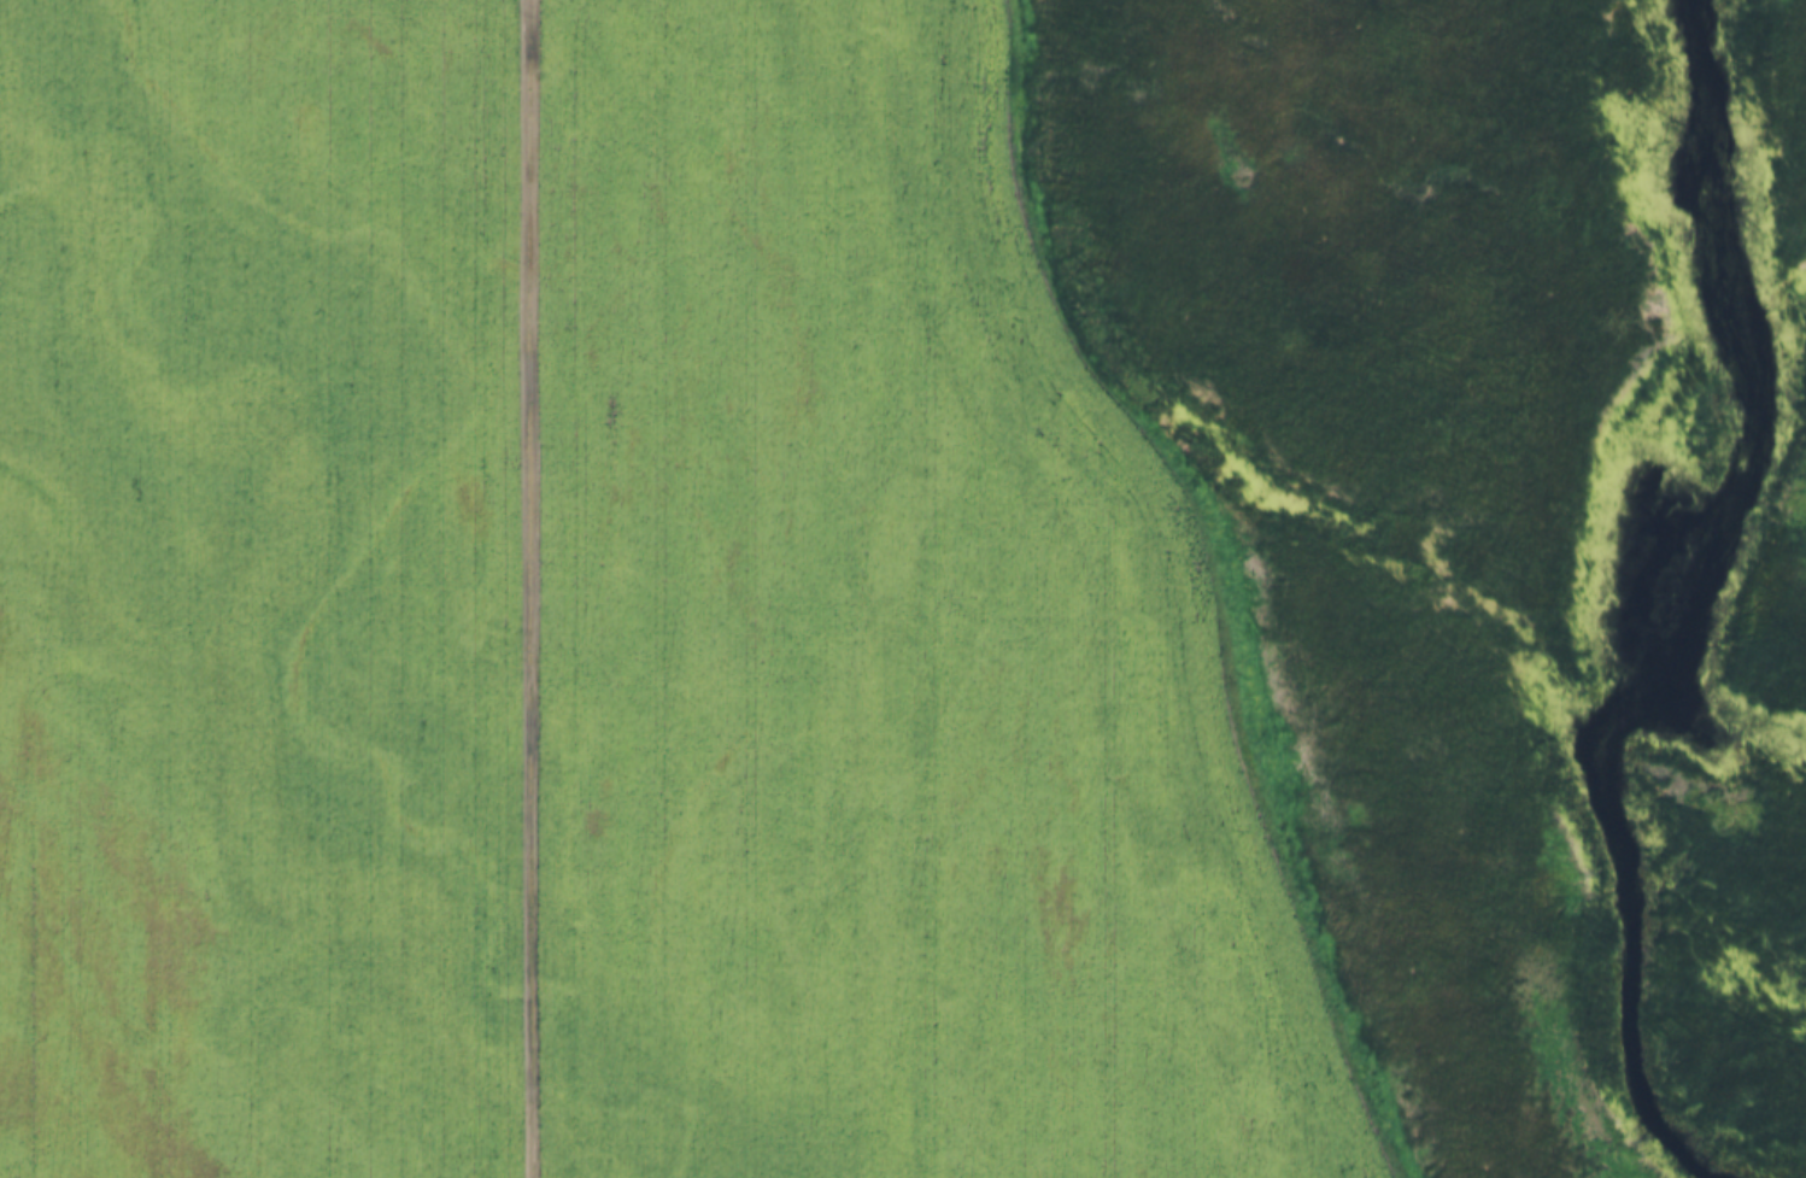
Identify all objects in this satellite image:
river: (1647, 605)

